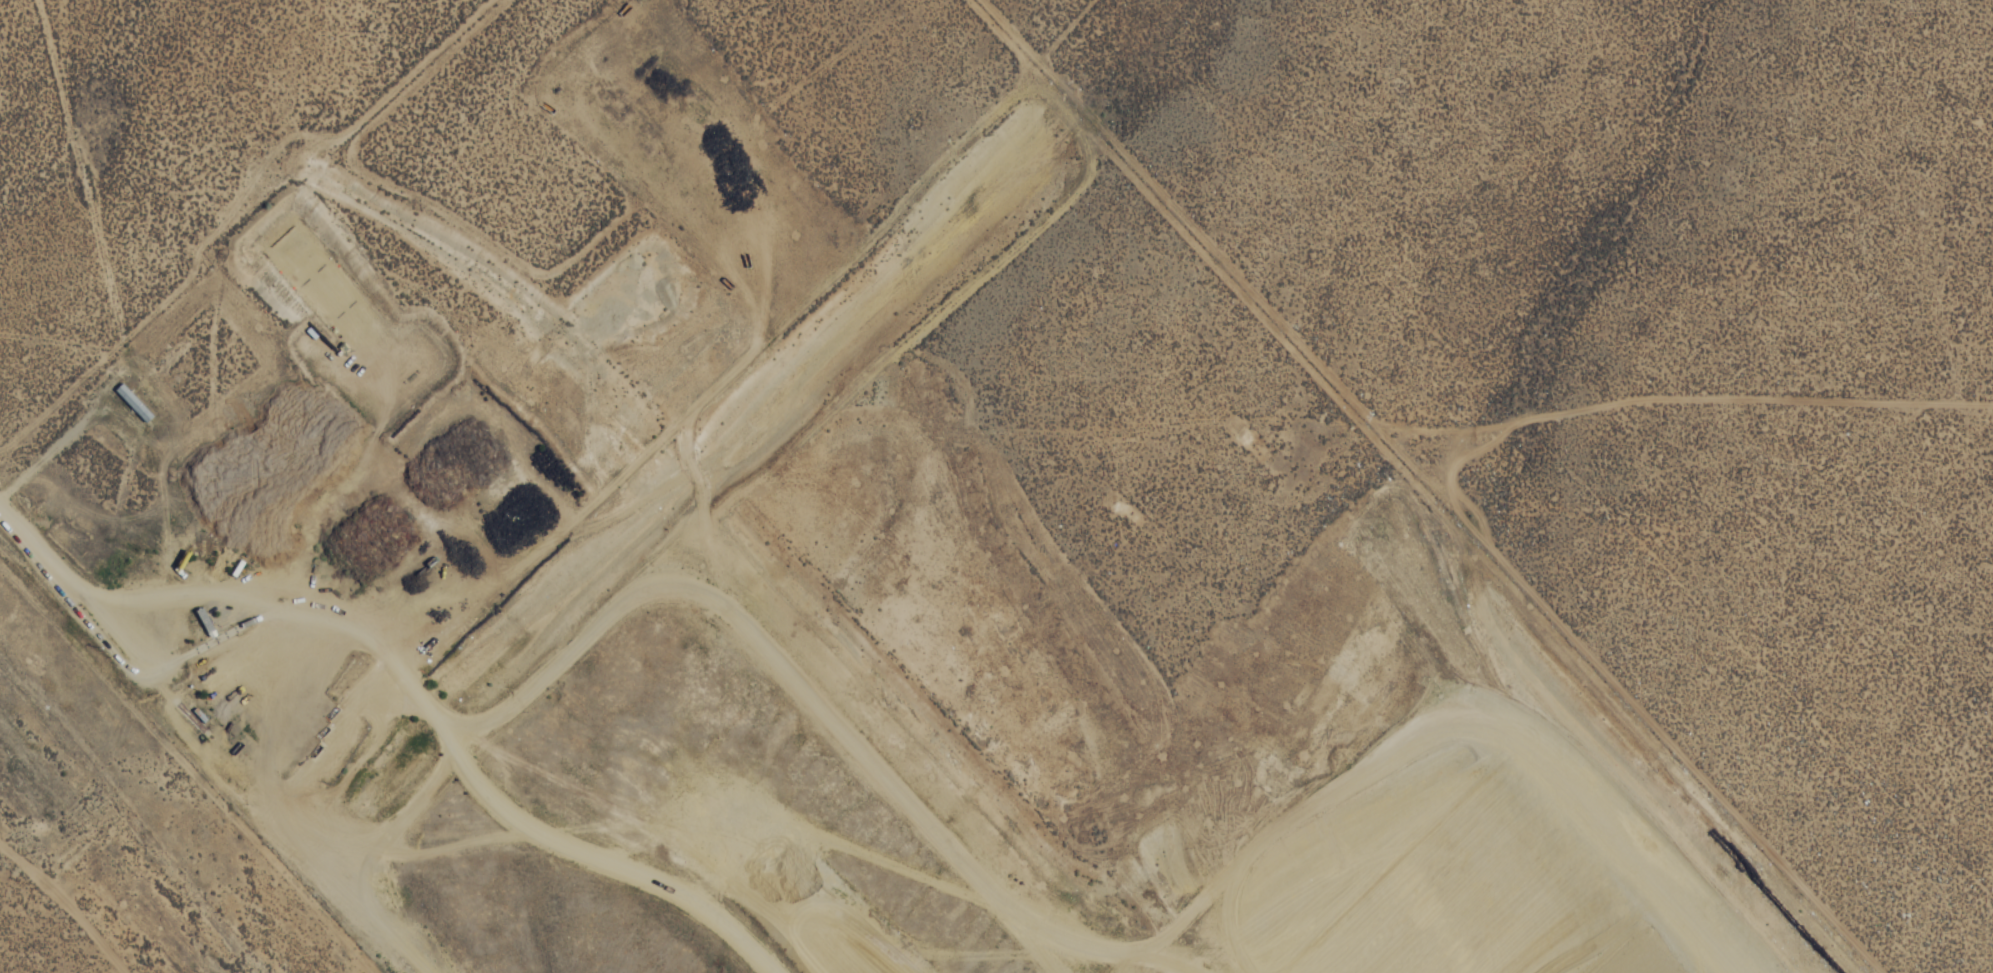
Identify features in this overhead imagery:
building: (132, 402)
road: (72, 592)
landfill: (1018, 672)

